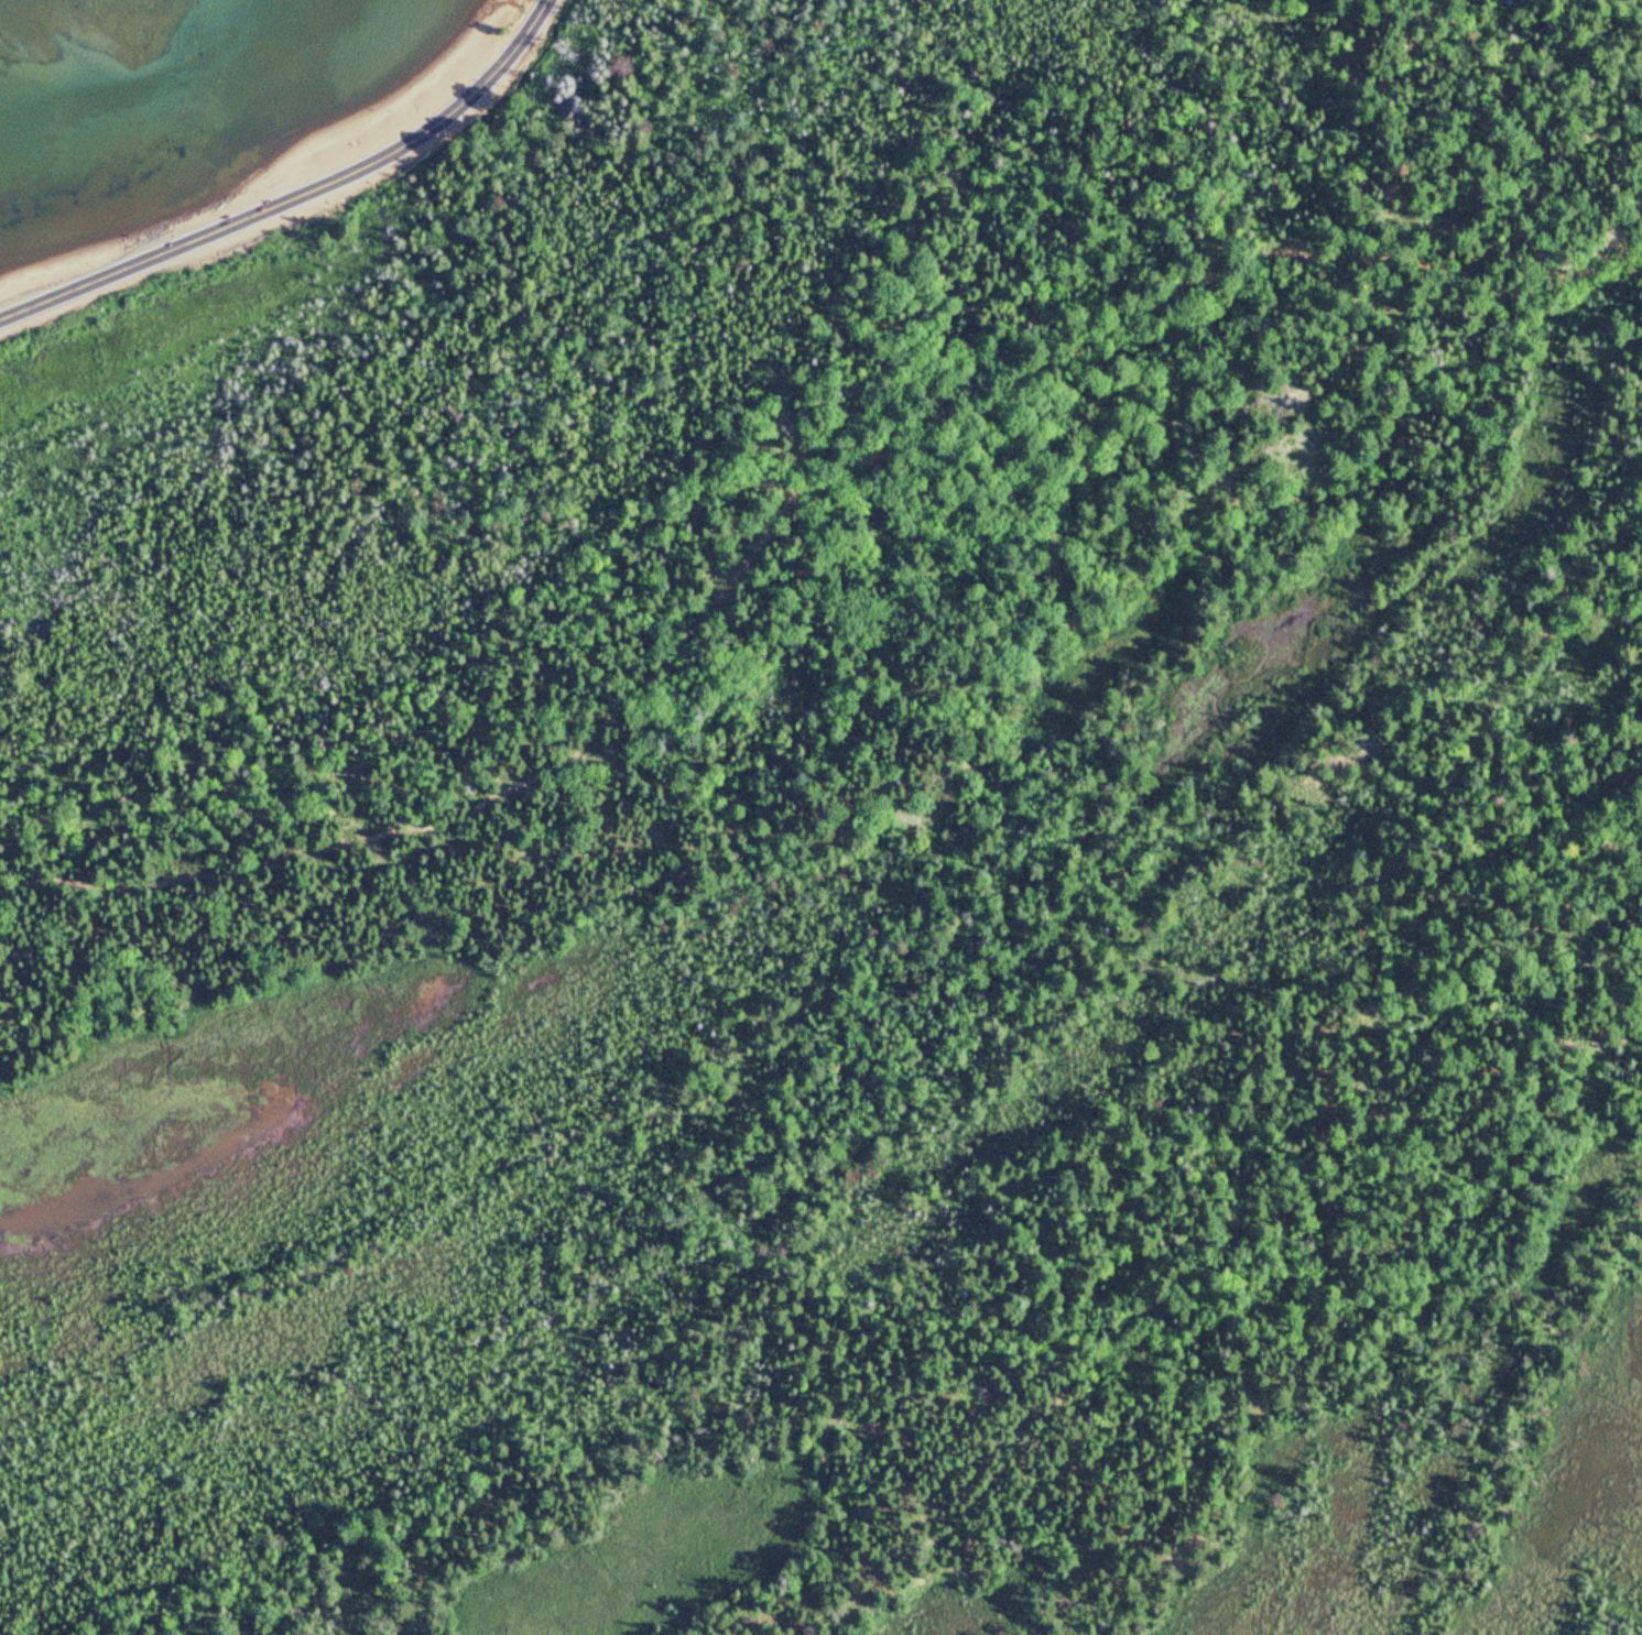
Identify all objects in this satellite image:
road: (301, 194)

